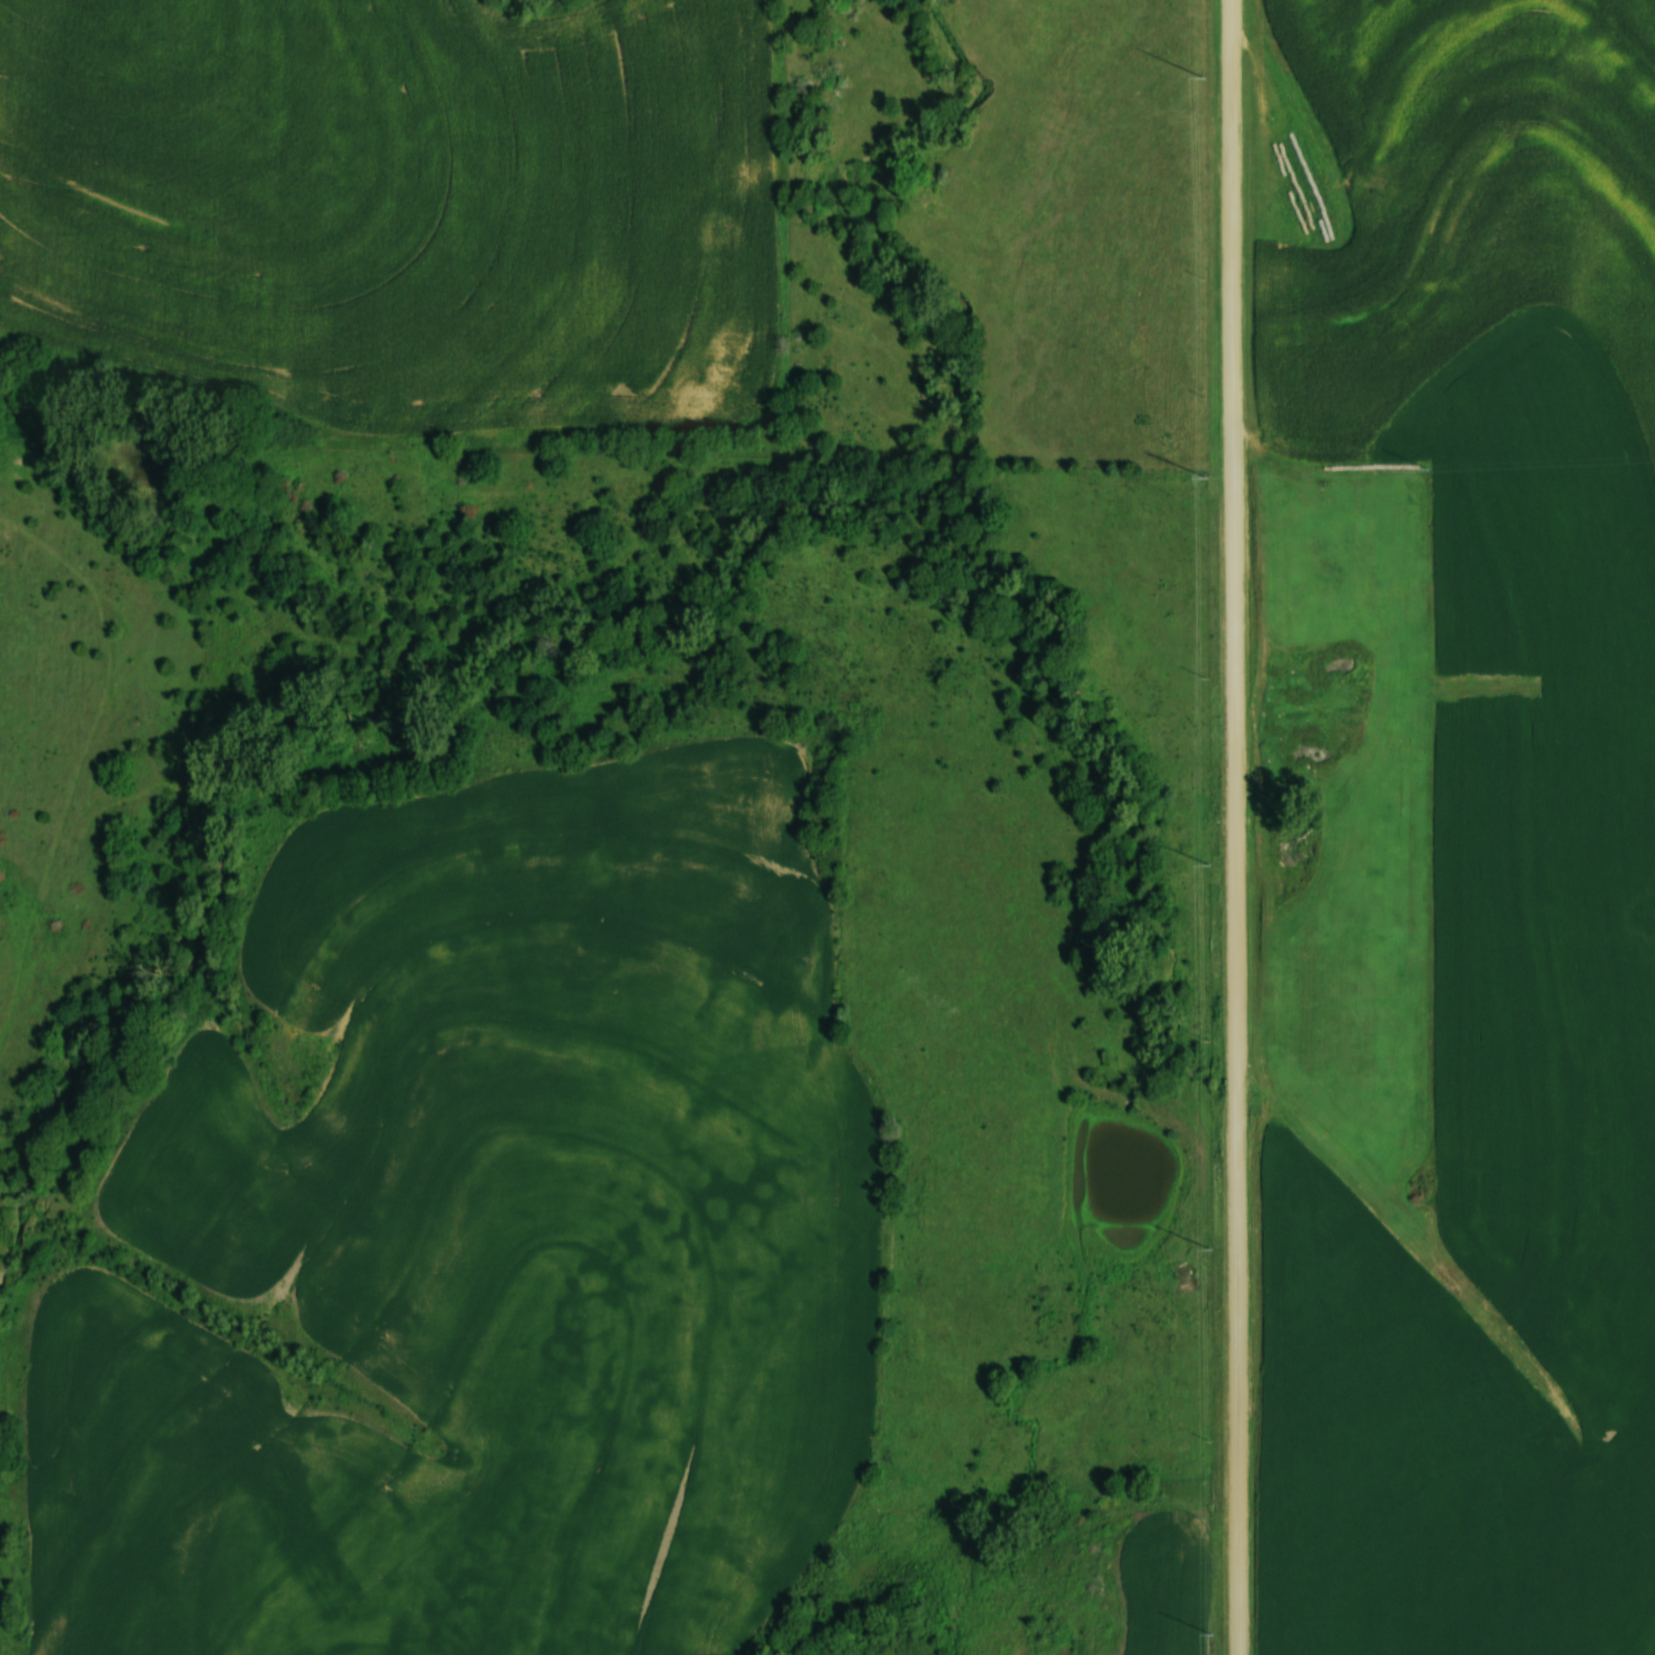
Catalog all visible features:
road: (1241, 827)

